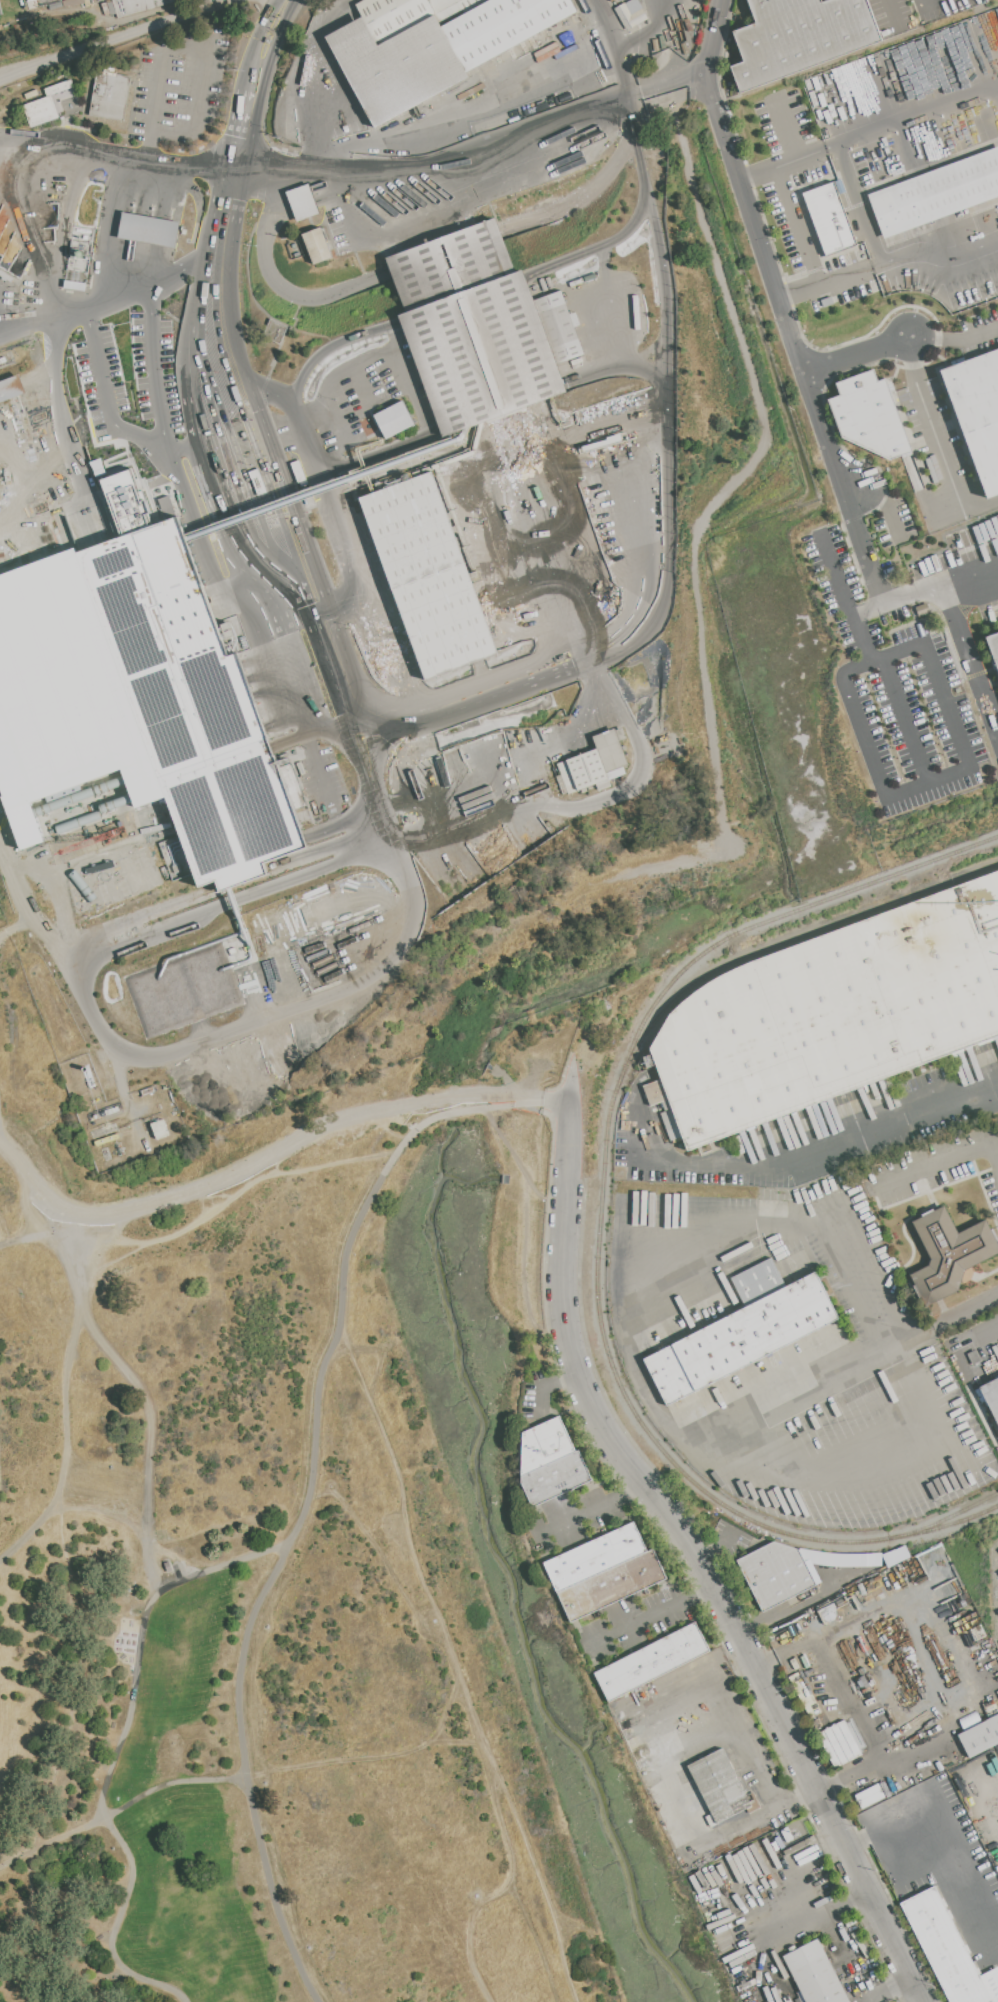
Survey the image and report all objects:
building: (442, 5)
building: (135, 6)
road: (669, 11)
road: (891, 12)
building: (630, 13)
building: (394, 16)
building: (800, 36)
road: (662, 39)
road: (116, 41)
road: (613, 47)
building: (434, 51)
road: (309, 77)
building: (110, 94)
building: (46, 105)
road: (469, 113)
road: (912, 115)
road: (72, 152)
road: (781, 164)
road: (286, 173)
building: (937, 194)
road: (15, 200)
building: (305, 201)
road: (859, 203)
building: (829, 218)
road: (795, 226)
building: (148, 231)
road: (111, 232)
building: (317, 245)
road: (597, 246)
road: (216, 253)
road: (935, 254)
road: (274, 281)
road: (824, 282)
road: (147, 285)
road: (6, 322)
building: (481, 328)
road: (955, 337)
road: (855, 353)
road: (96, 360)
road: (799, 365)
road: (396, 366)
road: (154, 370)
building: (11, 388)
building: (978, 411)
building: (869, 415)
building: (394, 419)
road: (931, 426)
road: (56, 433)
road: (199, 455)
road: (883, 498)
road: (980, 507)
road: (669, 524)
building: (429, 574)
road: (968, 574)
road: (928, 588)
road: (902, 598)
road: (256, 609)
building: (993, 647)
road: (968, 659)
road: (905, 719)
building: (611, 753)
road: (961, 769)
road: (514, 771)
building: (584, 772)
building: (424, 779)
road: (320, 781)
building: (234, 814)
road: (27, 910)
road: (4, 942)
road: (88, 965)
building: (833, 1013)
road: (907, 1120)
building: (160, 1129)
road: (8, 1149)
road: (939, 1158)
road: (700, 1164)
road: (231, 1173)
road: (34, 1189)
railway: (600, 1221)
building: (950, 1253)
road: (852, 1293)
road: (954, 1316)
building: (743, 1330)
road: (989, 1337)
building: (974, 1357)
road: (635, 1371)
road: (71, 1394)
building: (991, 1396)
road: (790, 1399)
road: (150, 1416)
building: (550, 1462)
road: (307, 1483)
road: (596, 1509)
railway: (955, 1514)
road: (112, 1515)
building: (595, 1557)
road: (698, 1564)
building: (166, 1565)
building: (776, 1573)
building: (611, 1585)
road: (651, 1619)
road: (953, 1638)
building: (652, 1661)
road: (922, 1661)
road: (456, 1666)
road: (882, 1681)
road: (441, 1686)
road: (847, 1698)
building: (969, 1720)
building: (980, 1736)
building: (839, 1744)
road: (112, 1746)
road: (673, 1784)
building: (721, 1788)
building: (870, 1796)
road: (122, 1804)
road: (945, 1823)
road: (828, 1913)
building: (948, 1951)
building: (815, 1974)
road: (900, 1982)
road: (878, 1995)

